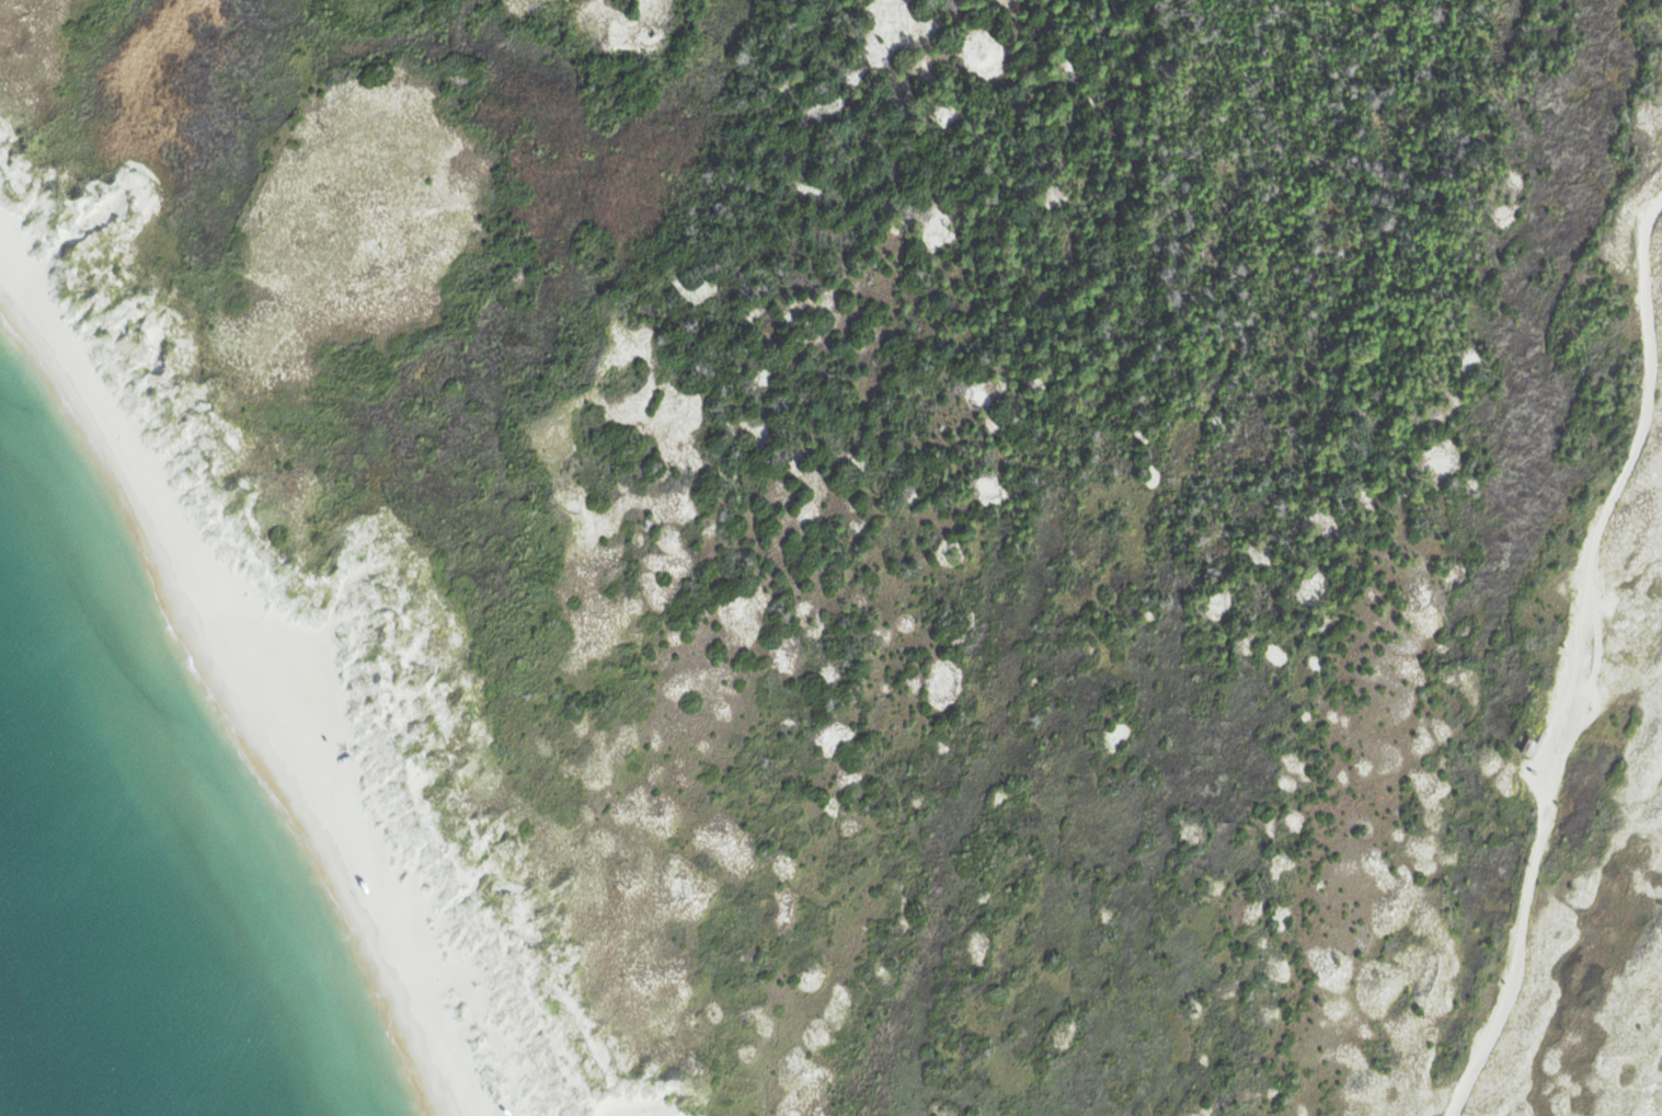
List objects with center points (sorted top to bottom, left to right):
road: (1595, 602)
road: (1595, 653)
road: (1572, 658)
road: (1626, 688)
road: (1581, 715)
road: (1536, 743)
building: (1527, 745)
road: (1537, 746)
road: (1533, 747)
road: (640, 1115)

